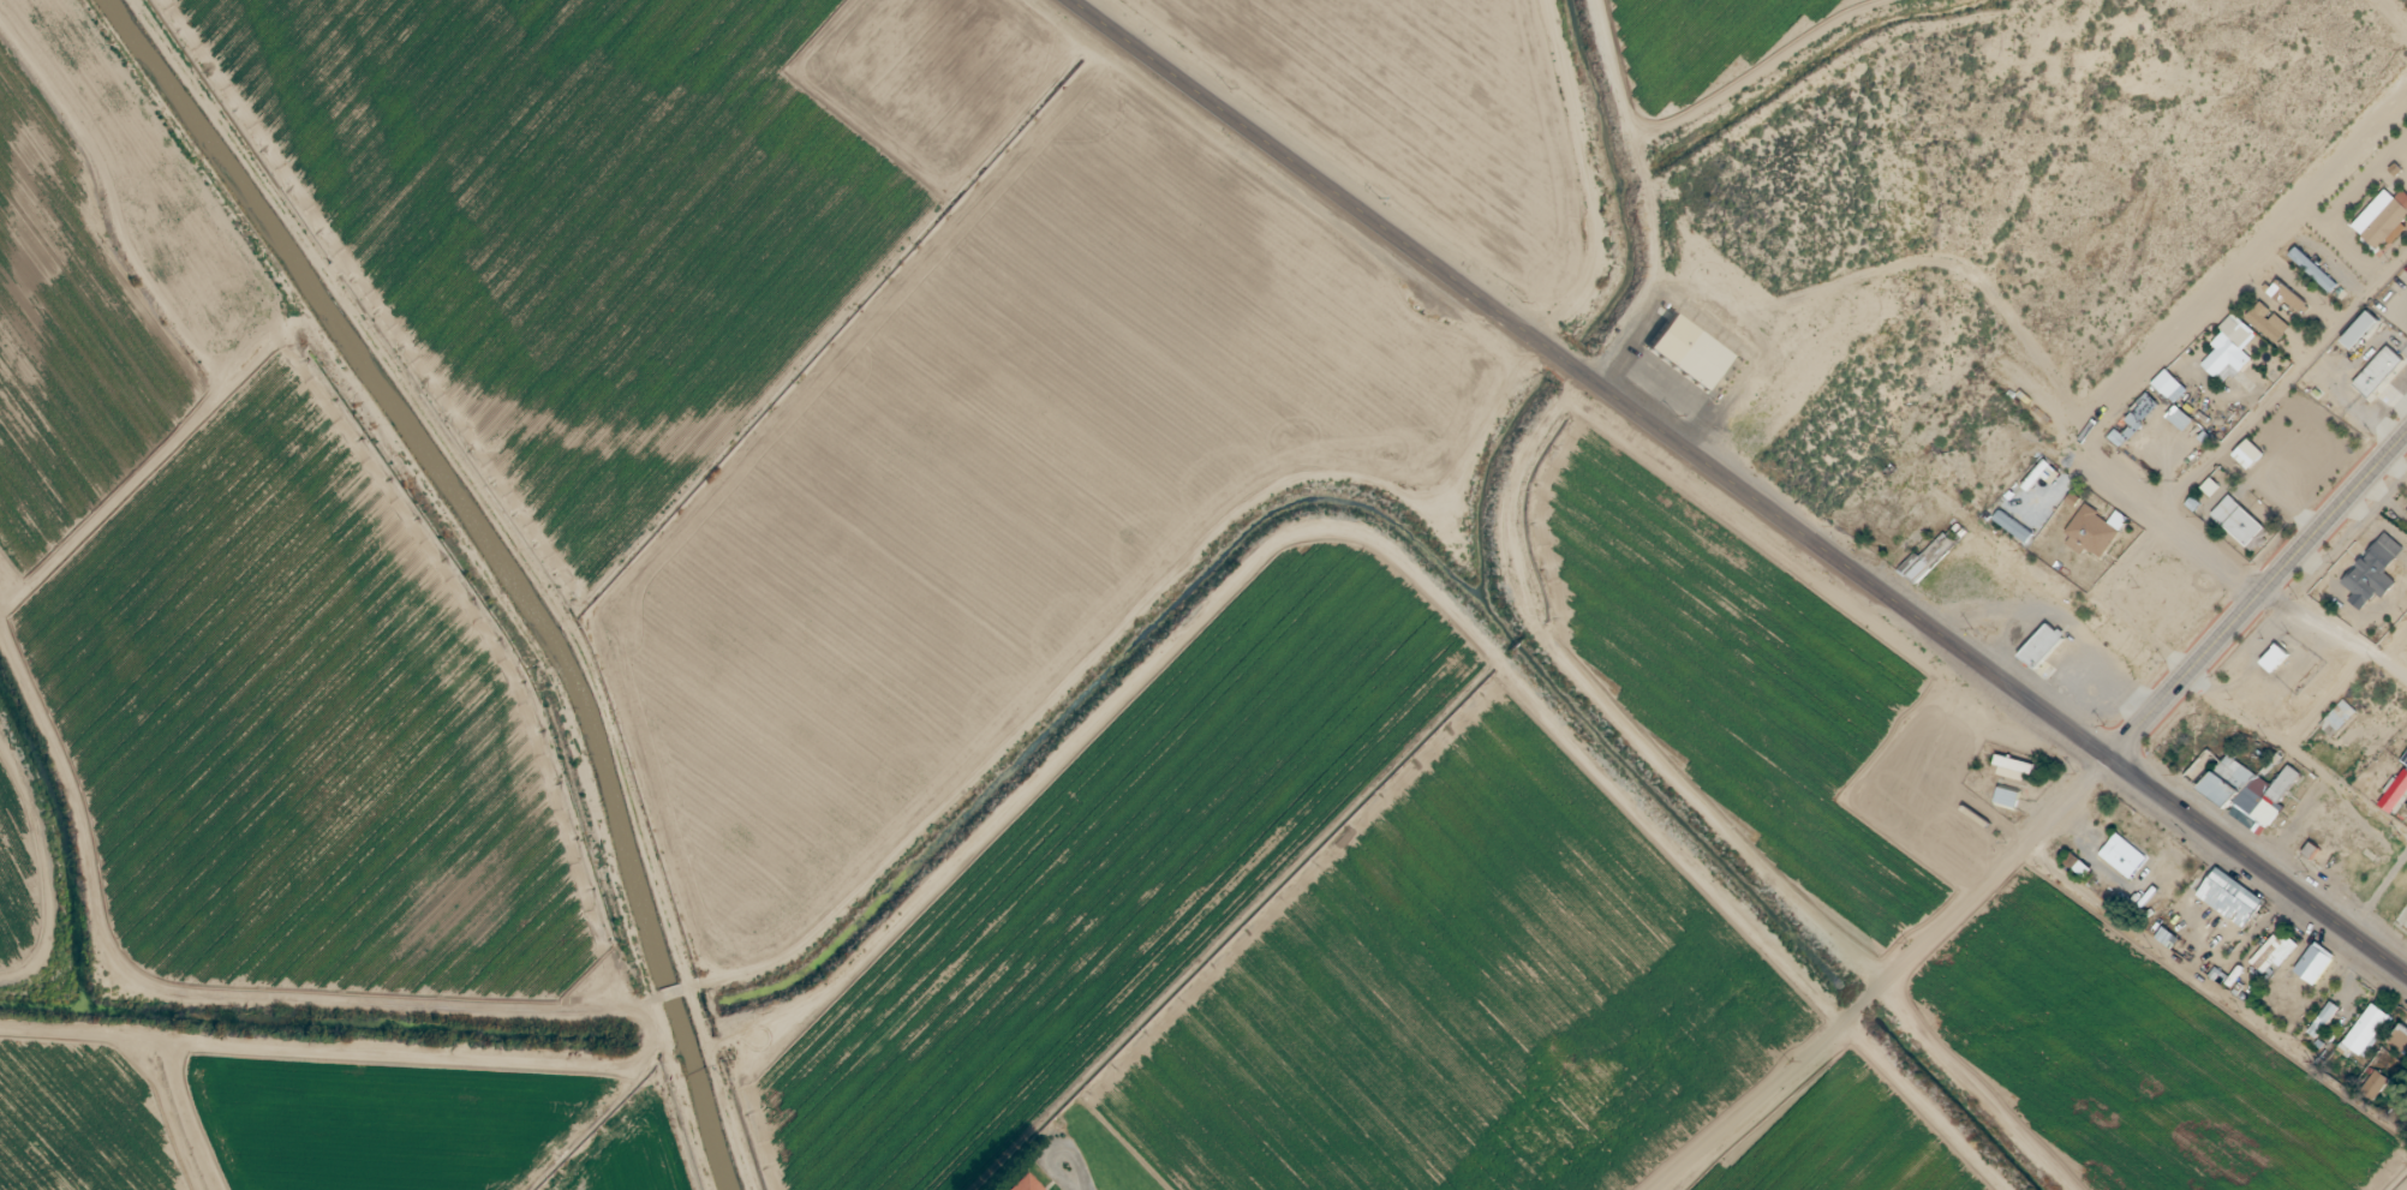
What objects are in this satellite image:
road: (2391, 14)
building: (2383, 215)
building: (2312, 268)
road: (2238, 277)
building: (2288, 295)
road: (1479, 298)
building: (2268, 321)
building: (2363, 325)
building: (2230, 349)
building: (1684, 358)
building: (2379, 367)
road: (2284, 389)
building: (2319, 426)
building: (2250, 450)
road: (2164, 528)
building: (1930, 555)
building: (2375, 564)
road: (2260, 605)
road: (2334, 644)
road: (2390, 645)
road: (1113, 647)
building: (2035, 653)
building: (2276, 653)
road: (1995, 677)
building: (2339, 718)
building: (2228, 776)
building: (2271, 785)
building: (2395, 789)
building: (2008, 795)
building: (2124, 851)
road: (2256, 868)
building: (2229, 895)
building: (2315, 959)
road: (1879, 974)
road: (192, 1000)
road: (662, 1004)
building: (2370, 1025)
road: (1097, 1159)
building: (1027, 1183)

